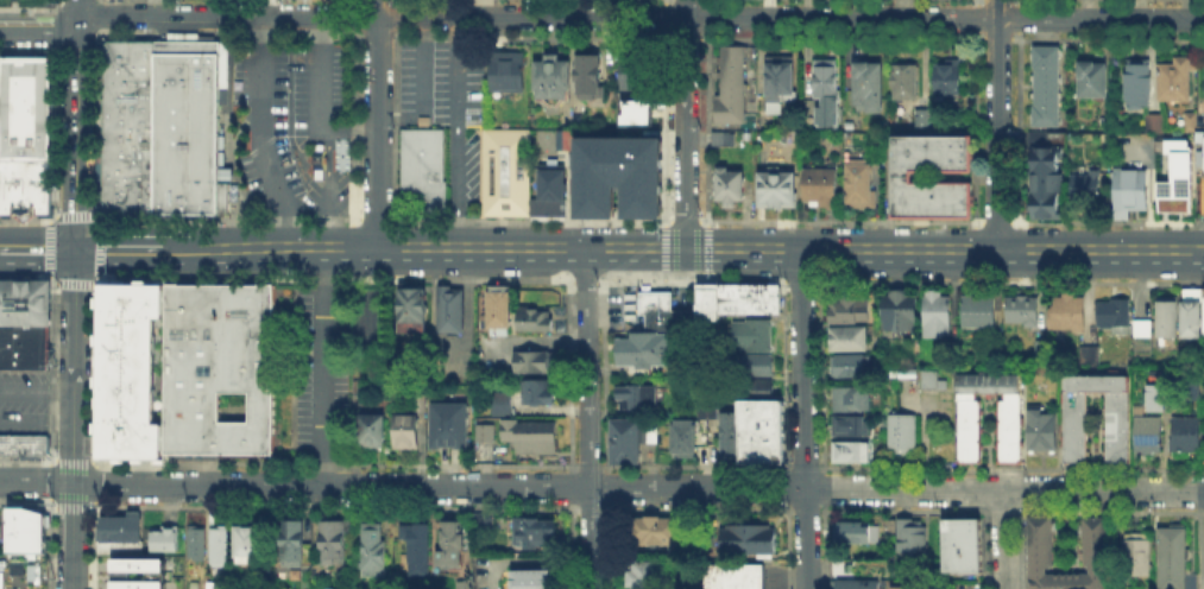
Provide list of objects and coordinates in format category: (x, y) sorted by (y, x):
road: (380, 15)
road: (945, 15)
road: (39, 30)
building: (505, 70)
building: (629, 71)
building: (585, 74)
building: (550, 77)
building: (1178, 77)
building: (827, 81)
building: (950, 81)
building: (907, 82)
building: (1095, 82)
building: (780, 83)
building: (1135, 83)
road: (422, 88)
building: (732, 88)
building: (869, 88)
building: (1047, 89)
road: (316, 101)
parking lot: (446, 106)
building: (633, 112)
building: (813, 112)
building: (1152, 120)
road: (76, 125)
parking lot: (292, 125)
road: (376, 125)
building: (1191, 125)
road: (685, 126)
road: (997, 126)
building: (124, 127)
building: (182, 127)
road: (454, 133)
road: (264, 134)
building: (23, 135)
building: (559, 138)
building: (721, 141)
building: (1203, 152)
building: (317, 161)
building: (420, 164)
building: (504, 170)
building: (617, 173)
building: (1172, 175)
building: (907, 179)
building: (1046, 180)
building: (861, 186)
building: (824, 188)
road: (327, 189)
building: (730, 189)
building: (778, 190)
building: (1088, 192)
building: (553, 194)
building: (1131, 194)
road: (0, 251)
road: (38, 251)
traffic signals: (75, 251)
road: (379, 251)
road: (944, 252)
road: (584, 262)
road: (645, 273)
building: (23, 300)
building: (740, 302)
building: (846, 308)
building: (975, 308)
building: (1020, 308)
building: (499, 309)
building: (896, 309)
building: (1063, 310)
building: (1189, 310)
building: (1202, 310)
building: (415, 311)
building: (453, 312)
building: (934, 312)
building: (1111, 313)
building: (1164, 315)
building: (667, 316)
building: (538, 321)
building: (1139, 325)
building: (756, 335)
building: (846, 336)
building: (23, 346)
building: (647, 349)
building: (1085, 353)
parking lot: (334, 356)
building: (532, 363)
building: (847, 363)
building: (757, 366)
road: (74, 367)
building: (218, 367)
building: (127, 368)
road: (322, 368)
building: (986, 381)
building: (932, 382)
road: (37, 388)
parking lot: (23, 389)
building: (757, 389)
building: (1191, 389)
building: (363, 391)
building: (540, 393)
building: (1154, 395)
building: (849, 397)
building: (638, 398)
building: (422, 404)
building: (503, 406)
building: (708, 412)
road: (36, 420)
road: (802, 420)
building: (847, 424)
building: (1073, 425)
building: (1007, 426)
building: (450, 427)
building: (1039, 427)
building: (899, 430)
road: (587, 431)
building: (1183, 431)
building: (372, 432)
building: (1145, 432)
building: (408, 433)
building: (487, 433)
building: (763, 433)
building: (731, 436)
building: (532, 438)
building: (686, 439)
building: (628, 442)
building: (20, 444)
road: (922, 446)
building: (849, 449)
road: (36, 481)
road: (637, 487)
building: (486, 520)
building: (119, 526)
building: (24, 528)
building: (532, 531)
building: (849, 531)
building: (658, 533)
building: (909, 534)
road: (71, 536)
building: (751, 538)
road: (1003, 539)
building: (166, 540)
building: (452, 540)
building: (292, 543)
building: (330, 543)
building: (959, 543)
building: (1038, 543)
building: (116, 545)
building: (250, 545)
building: (198, 546)
building: (221, 549)
building: (417, 551)
building: (373, 552)
building: (1134, 552)
building: (1170, 557)
building: (840, 563)
building: (839, 569)
building: (135, 572)
building: (645, 575)
building: (737, 576)
building: (531, 578)
building: (856, 583)
building: (903, 587)

